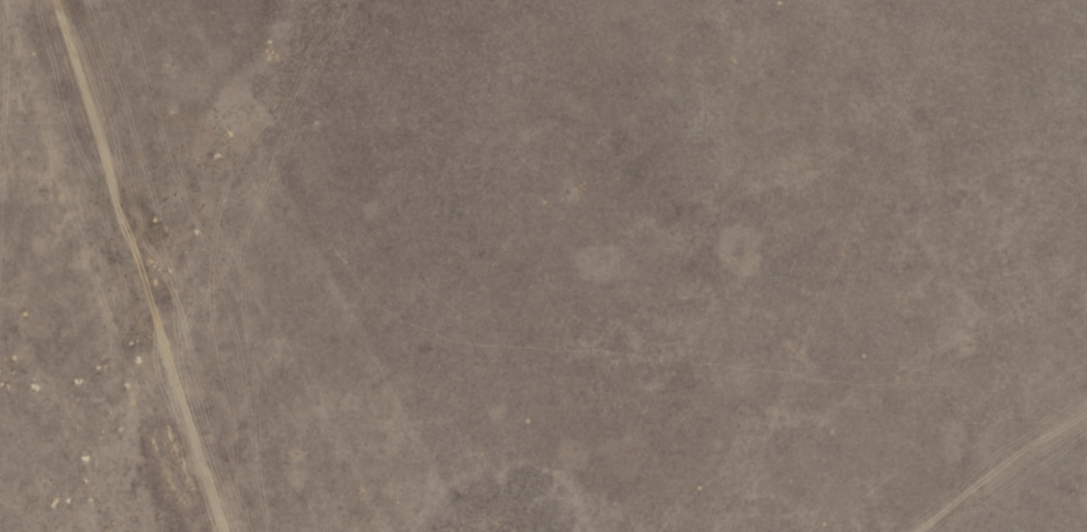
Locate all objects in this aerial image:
road: (100, 267)

